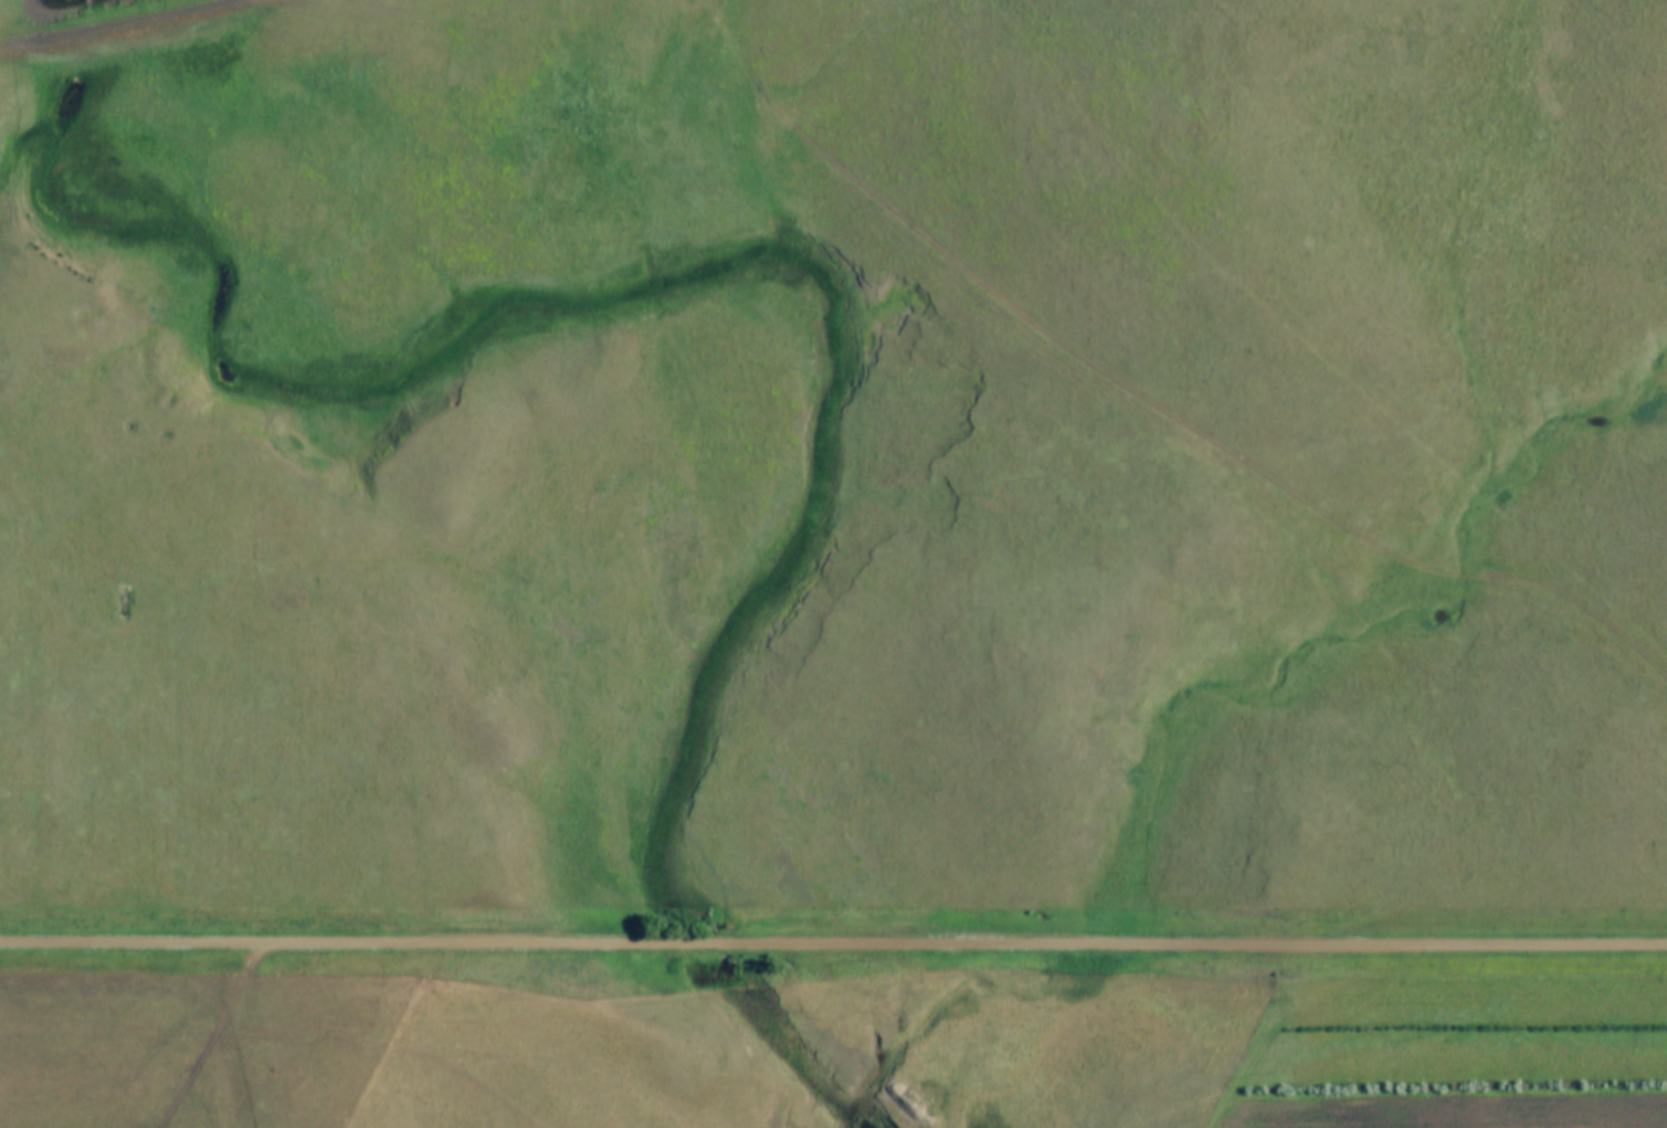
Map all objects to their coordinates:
dam: (87, 18)
road: (833, 946)

